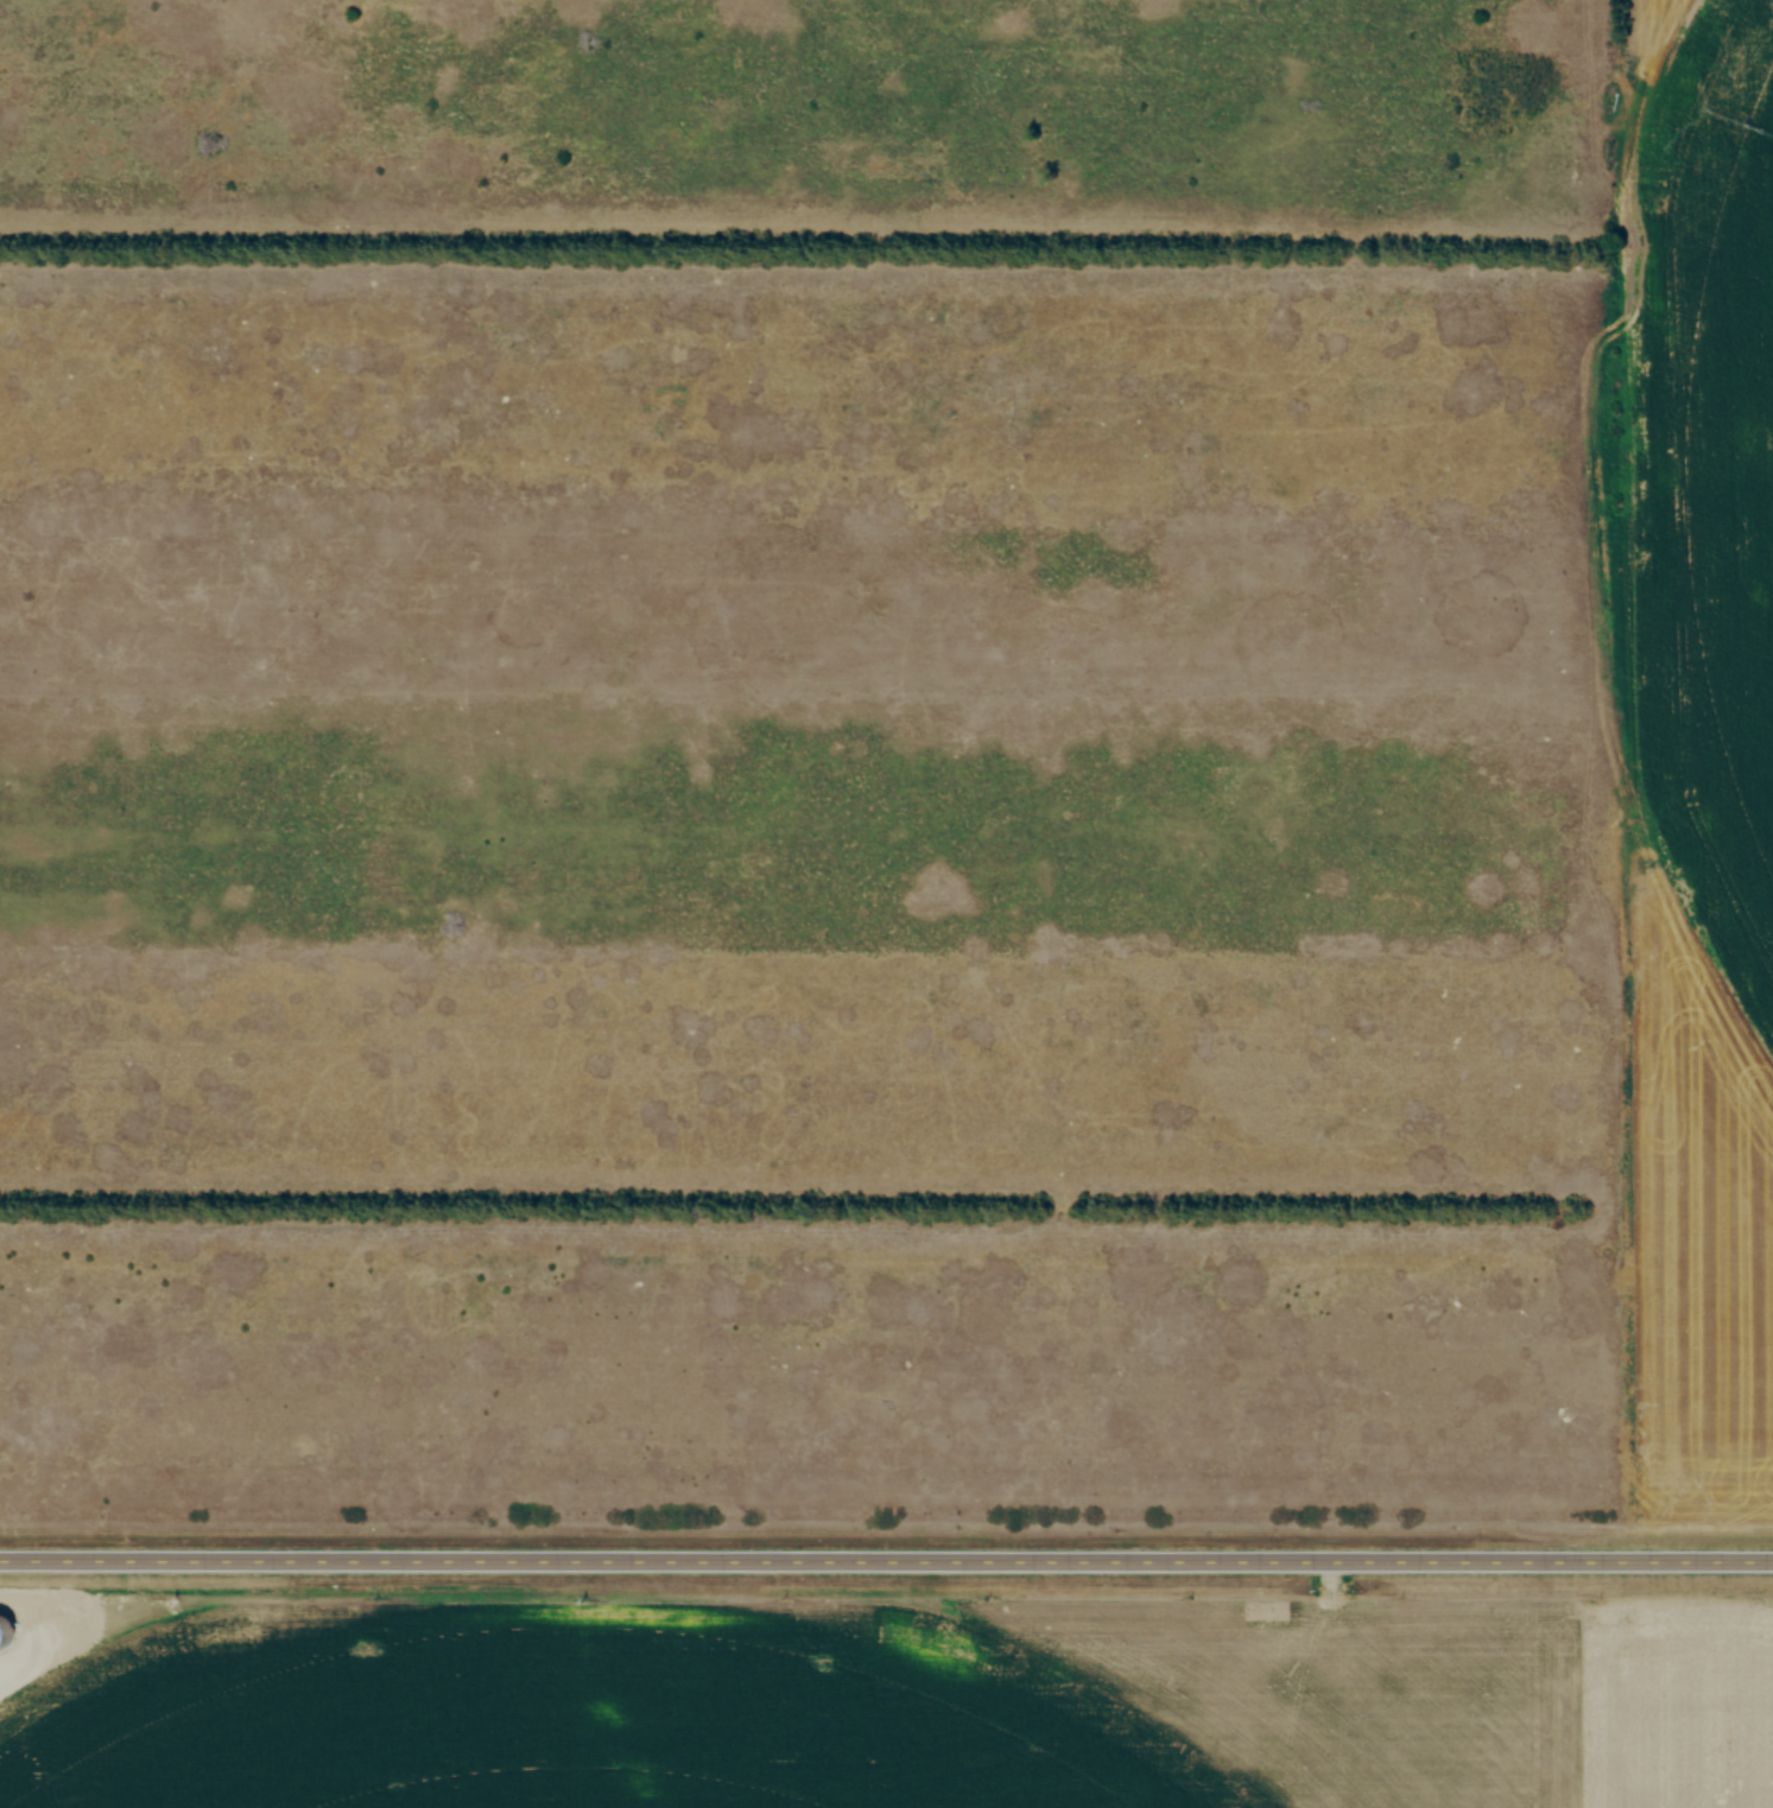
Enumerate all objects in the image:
road: (886, 1560)

